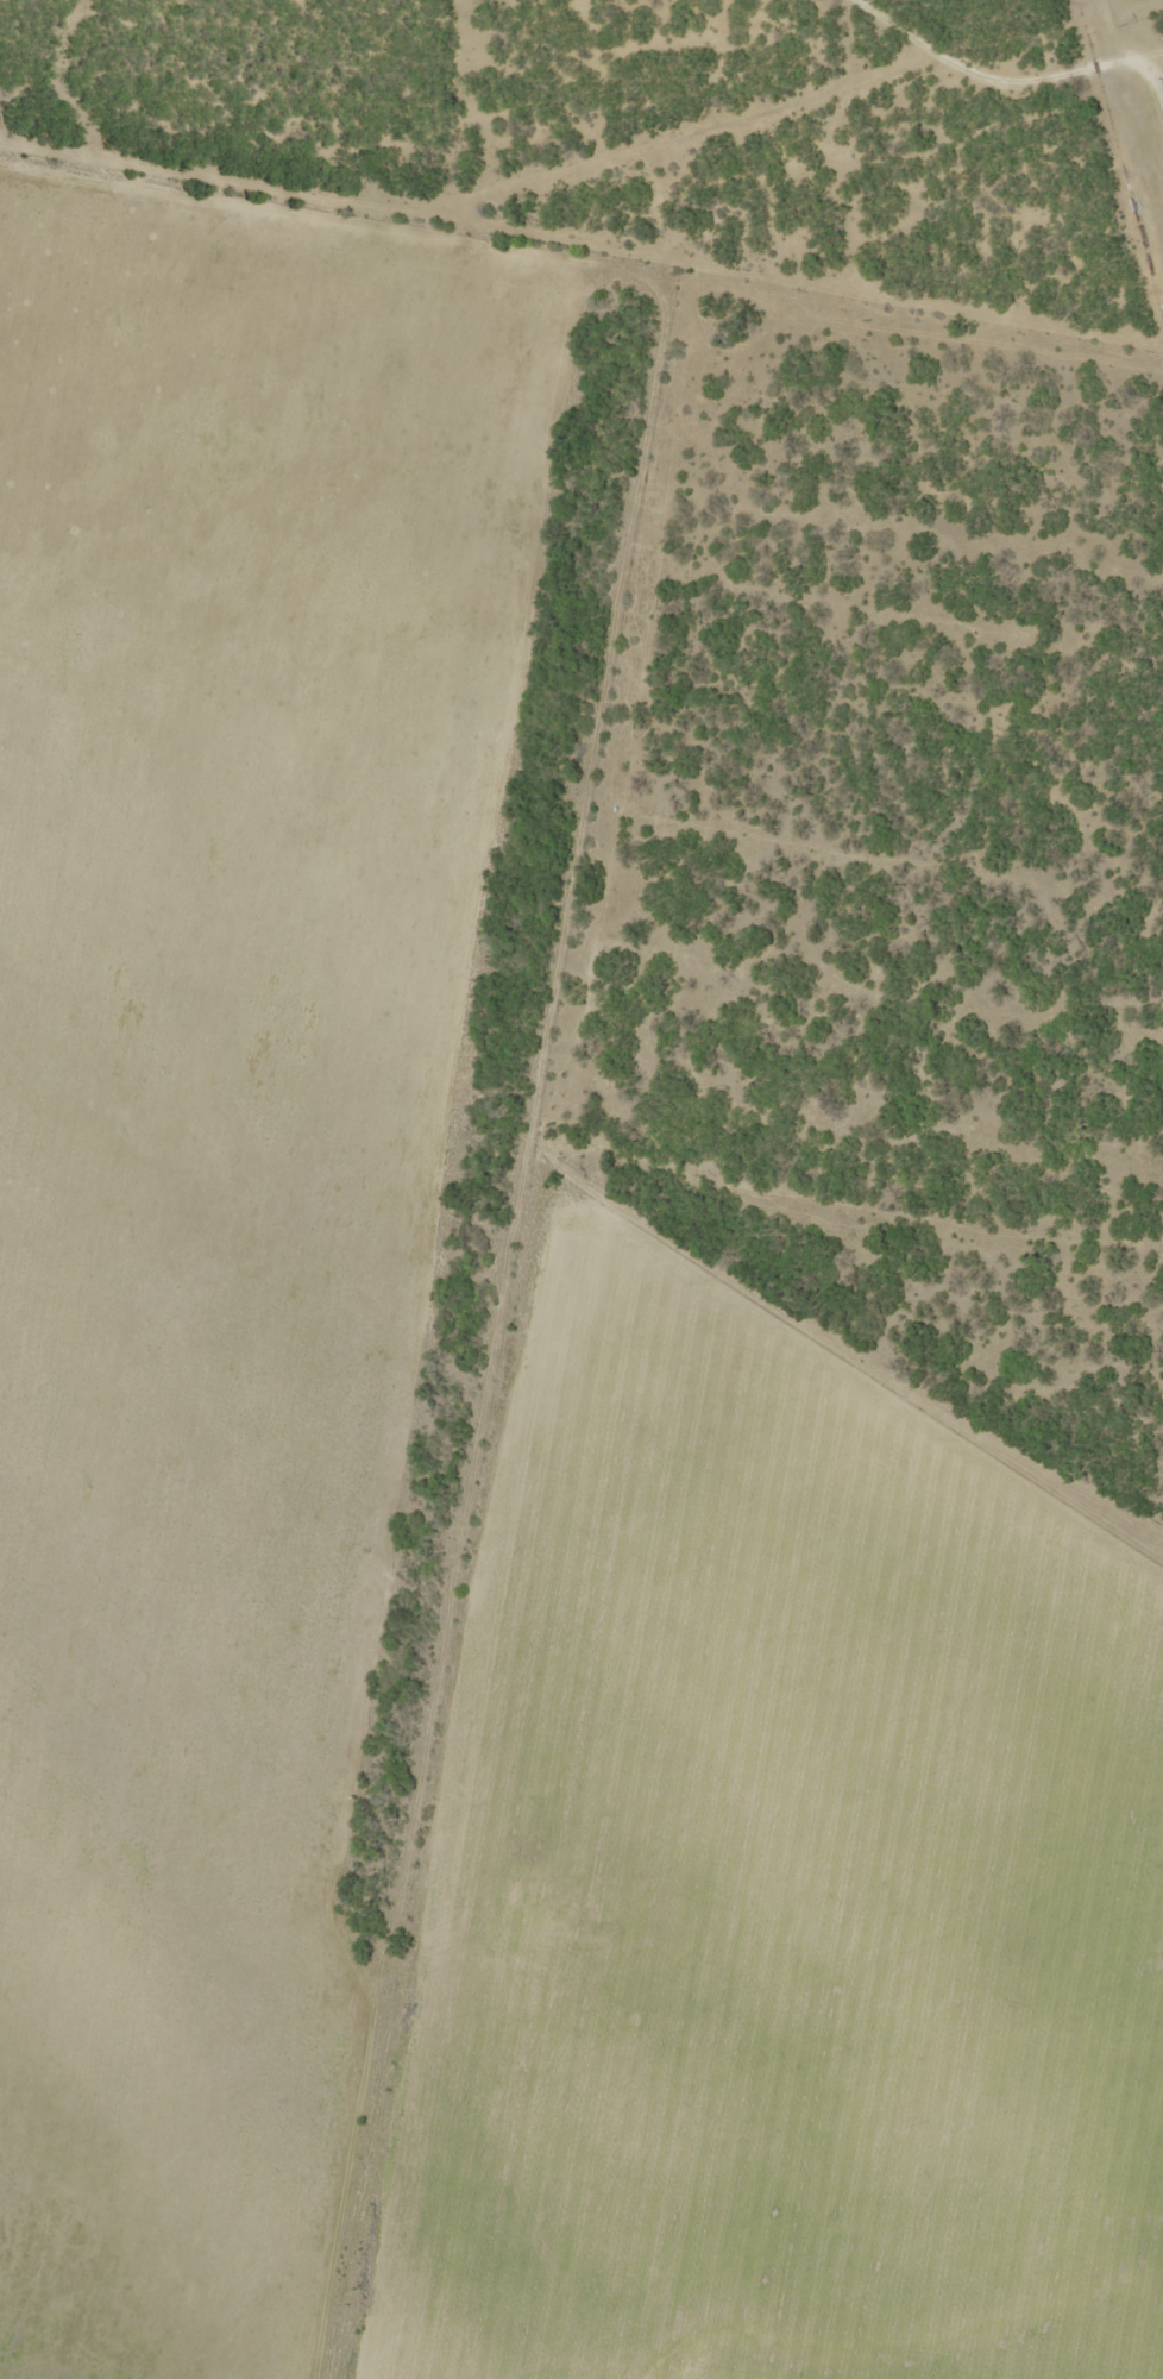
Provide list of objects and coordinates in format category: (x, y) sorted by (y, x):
road: (580, 289)
road: (541, 990)
road: (313, 1942)

